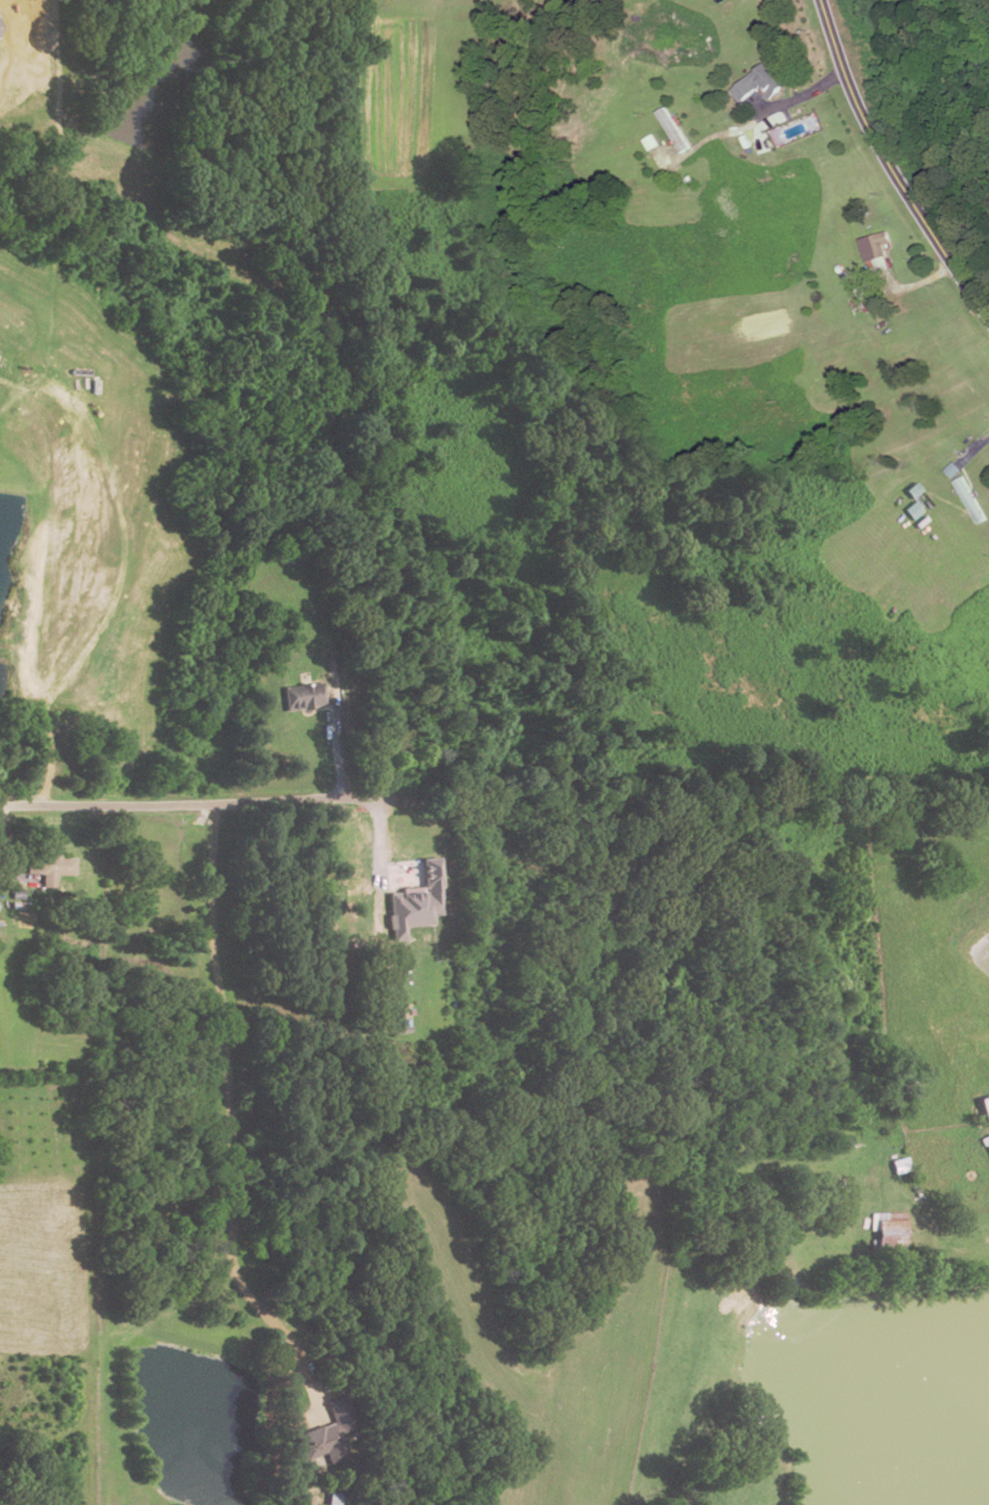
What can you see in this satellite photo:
building: (764, 81)
road: (760, 120)
building: (674, 129)
building: (652, 143)
road: (890, 165)
building: (876, 247)
road: (920, 284)
road: (976, 452)
building: (953, 471)
building: (969, 501)
building: (912, 509)
building: (302, 698)
road: (336, 748)
road: (168, 806)
road: (383, 845)
building: (47, 869)
building: (408, 910)
building: (984, 1109)
road: (229, 1125)
building: (986, 1142)
building: (901, 1167)
road: (941, 1228)
building: (892, 1233)
building: (324, 1444)

